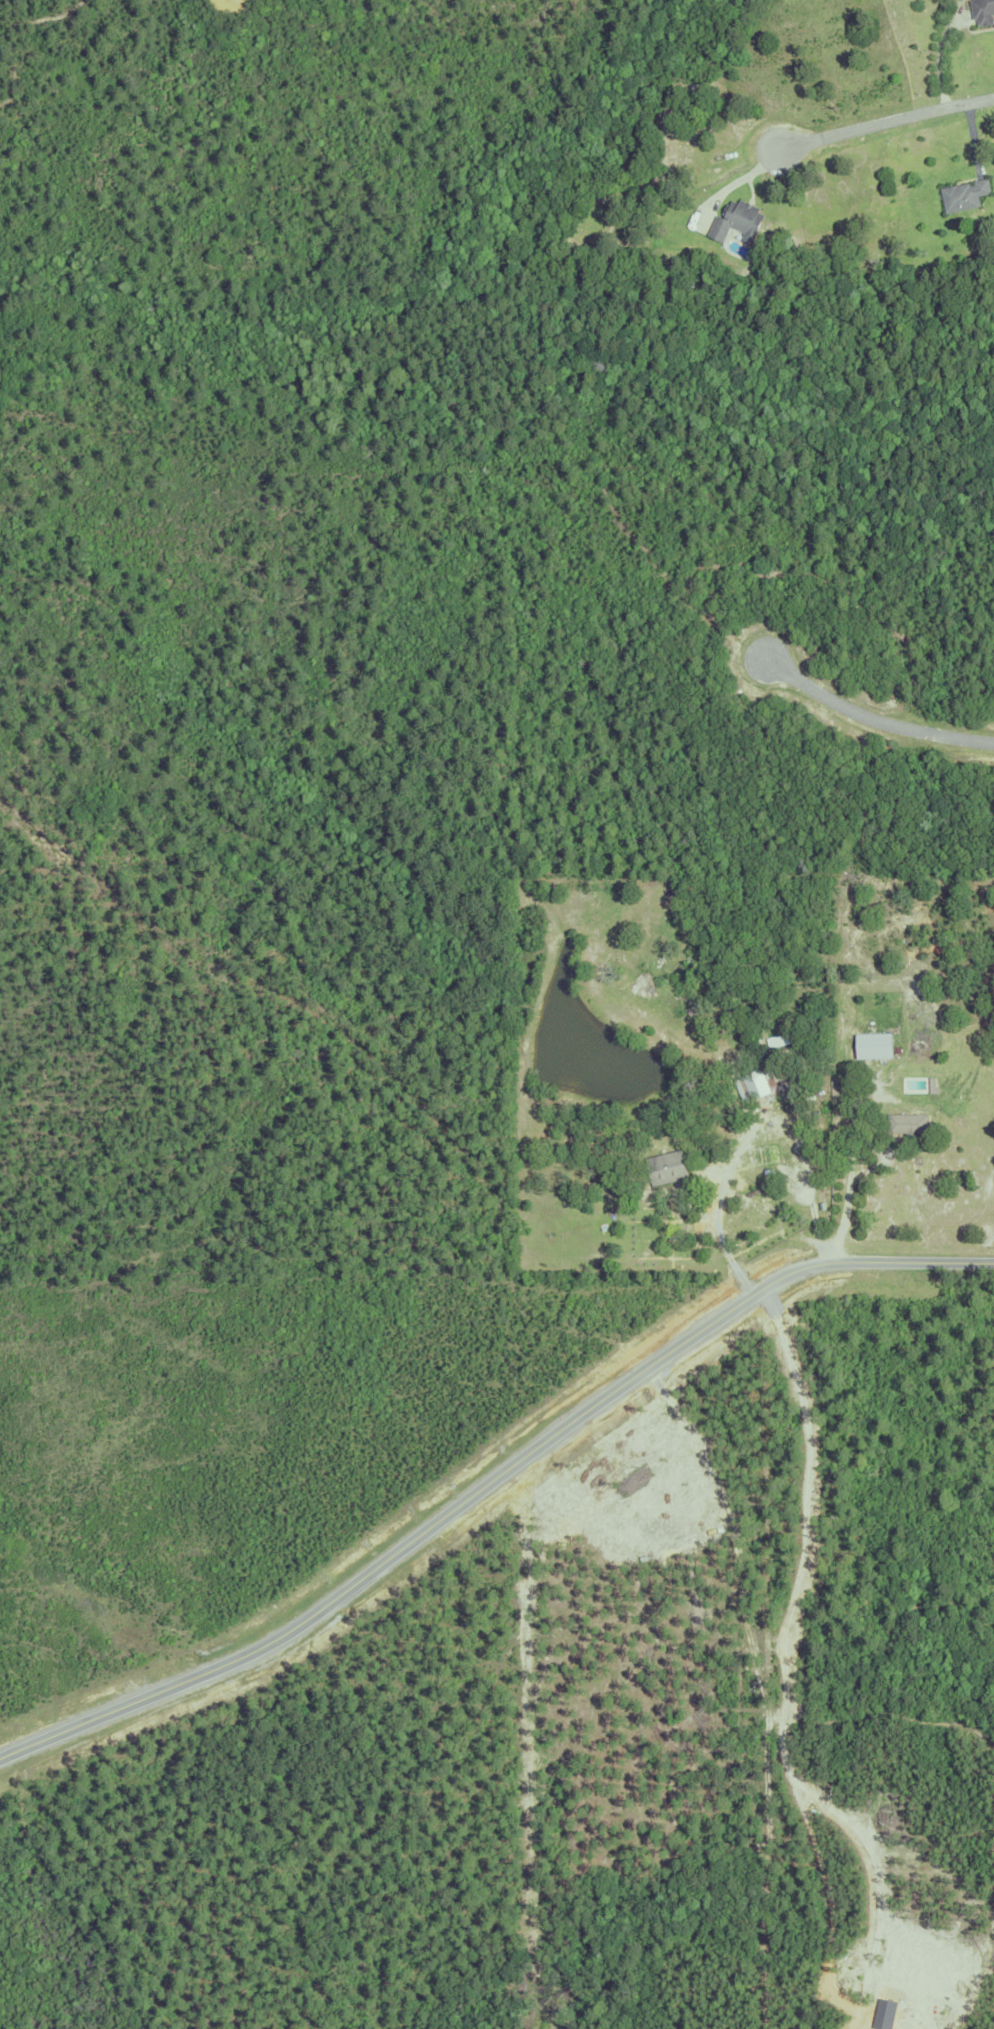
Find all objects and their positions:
building: (981, 10)
road: (939, 59)
road: (866, 129)
building: (962, 193)
building: (735, 219)
road: (873, 719)
building: (872, 1046)
building: (907, 1065)
building: (754, 1084)
building: (905, 1124)
building: (666, 1168)
road: (849, 1176)
building: (642, 1215)
road: (718, 1224)
road: (493, 1484)

